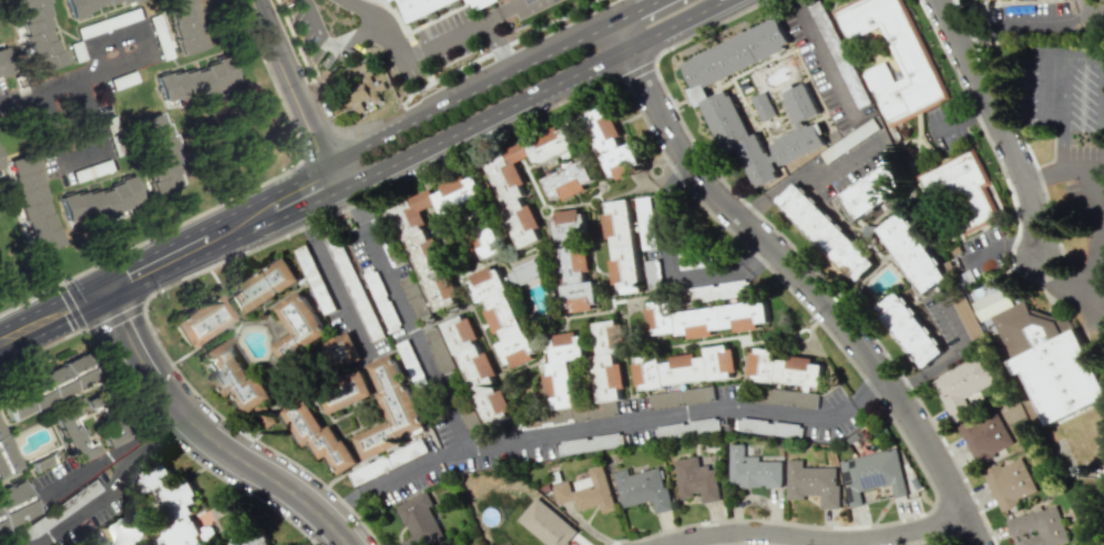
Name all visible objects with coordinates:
building: (390, 0)
building: (481, 3)
road: (794, 3)
building: (88, 7)
building: (422, 7)
road: (368, 9)
road: (636, 9)
building: (181, 27)
road: (1013, 29)
building: (38, 33)
road: (330, 44)
road: (498, 47)
road: (423, 49)
building: (897, 61)
road: (824, 63)
building: (2, 64)
road: (63, 82)
building: (194, 82)
road: (297, 89)
road: (471, 92)
road: (1064, 93)
road: (530, 94)
building: (359, 96)
building: (714, 101)
building: (763, 105)
road: (1001, 124)
building: (799, 125)
road: (1102, 138)
building: (611, 144)
building: (156, 153)
road: (82, 155)
road: (853, 155)
road: (1064, 168)
building: (568, 181)
road: (780, 186)
building: (962, 188)
building: (867, 194)
building: (511, 195)
building: (31, 202)
building: (98, 203)
building: (646, 223)
building: (826, 232)
building: (485, 233)
building: (435, 235)
road: (224, 237)
building: (622, 246)
road: (1002, 248)
building: (911, 253)
building: (574, 260)
road: (669, 264)
road: (1092, 265)
building: (527, 271)
road: (806, 276)
building: (317, 278)
road: (331, 279)
building: (263, 287)
building: (714, 292)
building: (990, 302)
building: (501, 313)
building: (704, 318)
road: (952, 318)
road: (54, 320)
building: (200, 320)
building: (909, 328)
building: (297, 329)
building: (344, 350)
building: (607, 360)
building: (1049, 360)
building: (562, 368)
building: (684, 368)
building: (784, 368)
road: (932, 368)
building: (478, 370)
building: (232, 373)
building: (420, 379)
building: (45, 385)
building: (962, 385)
building: (347, 394)
building: (681, 397)
building: (607, 408)
building: (391, 409)
building: (694, 426)
building: (72, 434)
building: (319, 435)
building: (984, 435)
road: (534, 436)
road: (213, 438)
road: (113, 453)
building: (4, 456)
building: (390, 461)
building: (752, 470)
building: (872, 474)
road: (396, 477)
building: (696, 480)
building: (1010, 482)
building: (812, 483)
road: (115, 484)
building: (642, 489)
building: (586, 491)
building: (171, 502)
building: (13, 507)
building: (420, 521)
building: (546, 524)
building: (1037, 527)
building: (122, 529)
building: (246, 534)
road: (817, 535)

